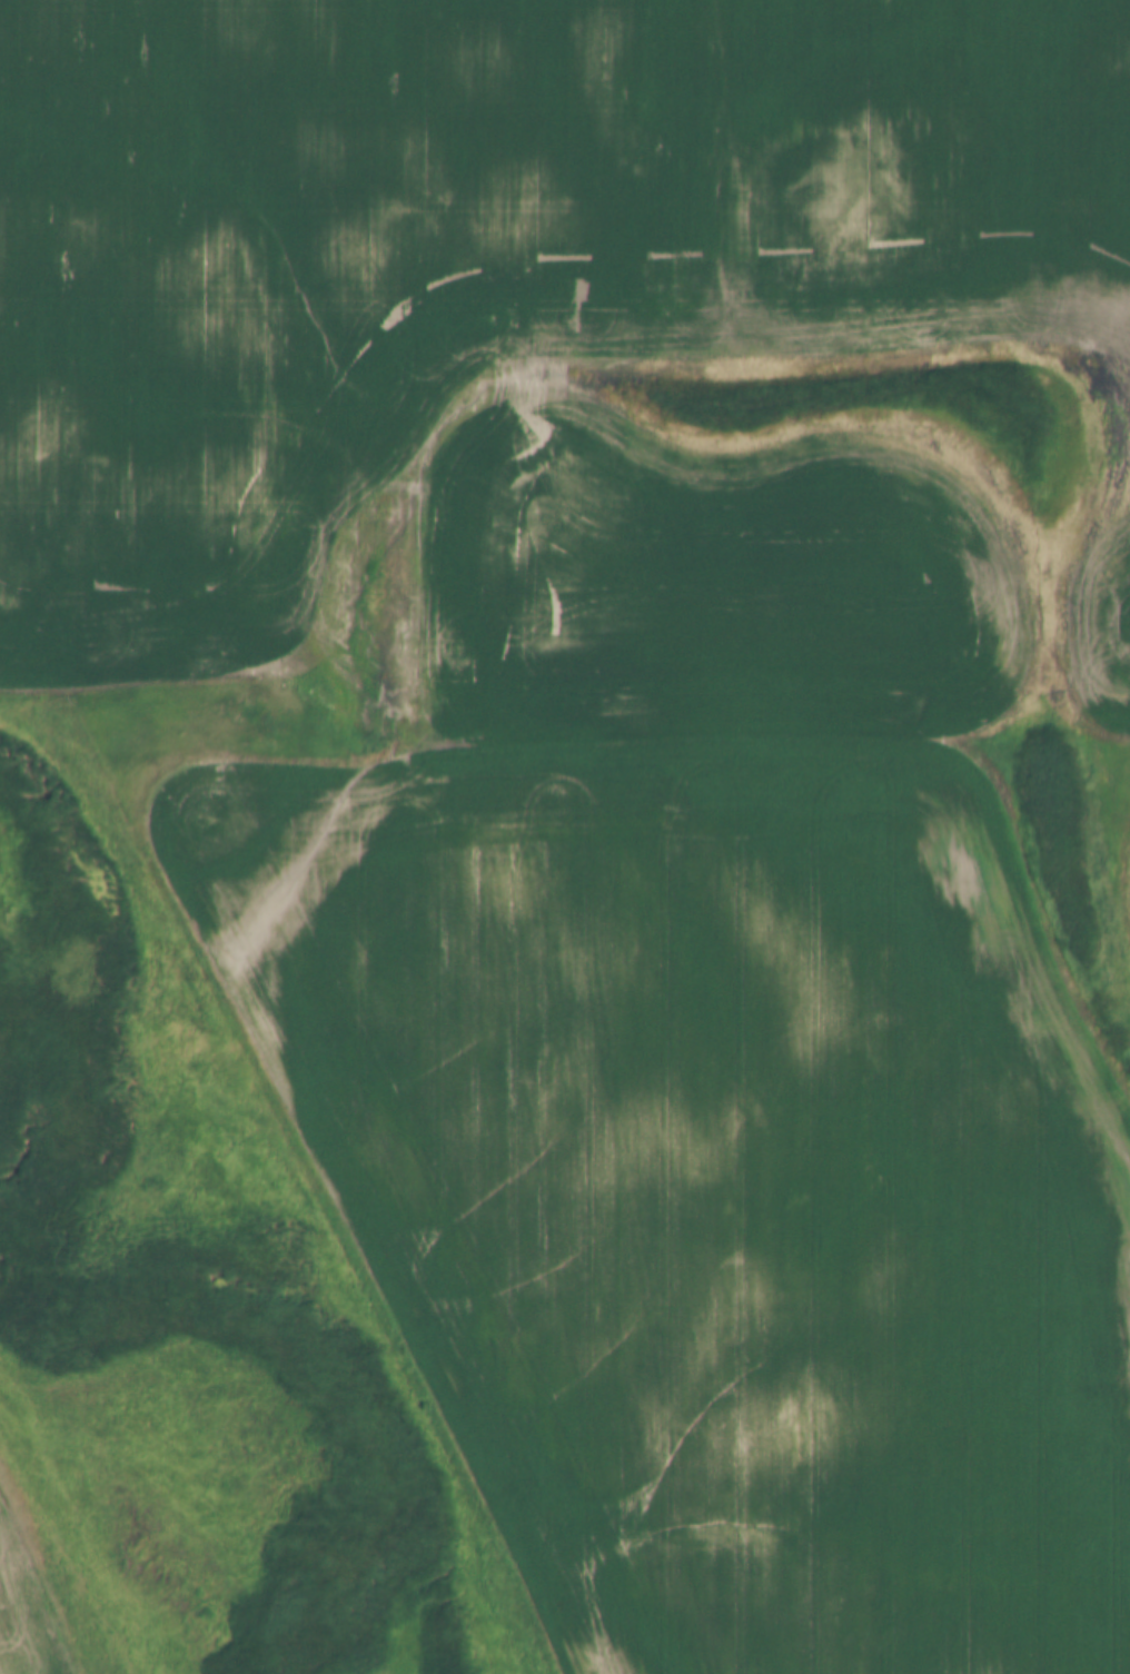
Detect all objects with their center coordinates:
river: (341, 1398)

